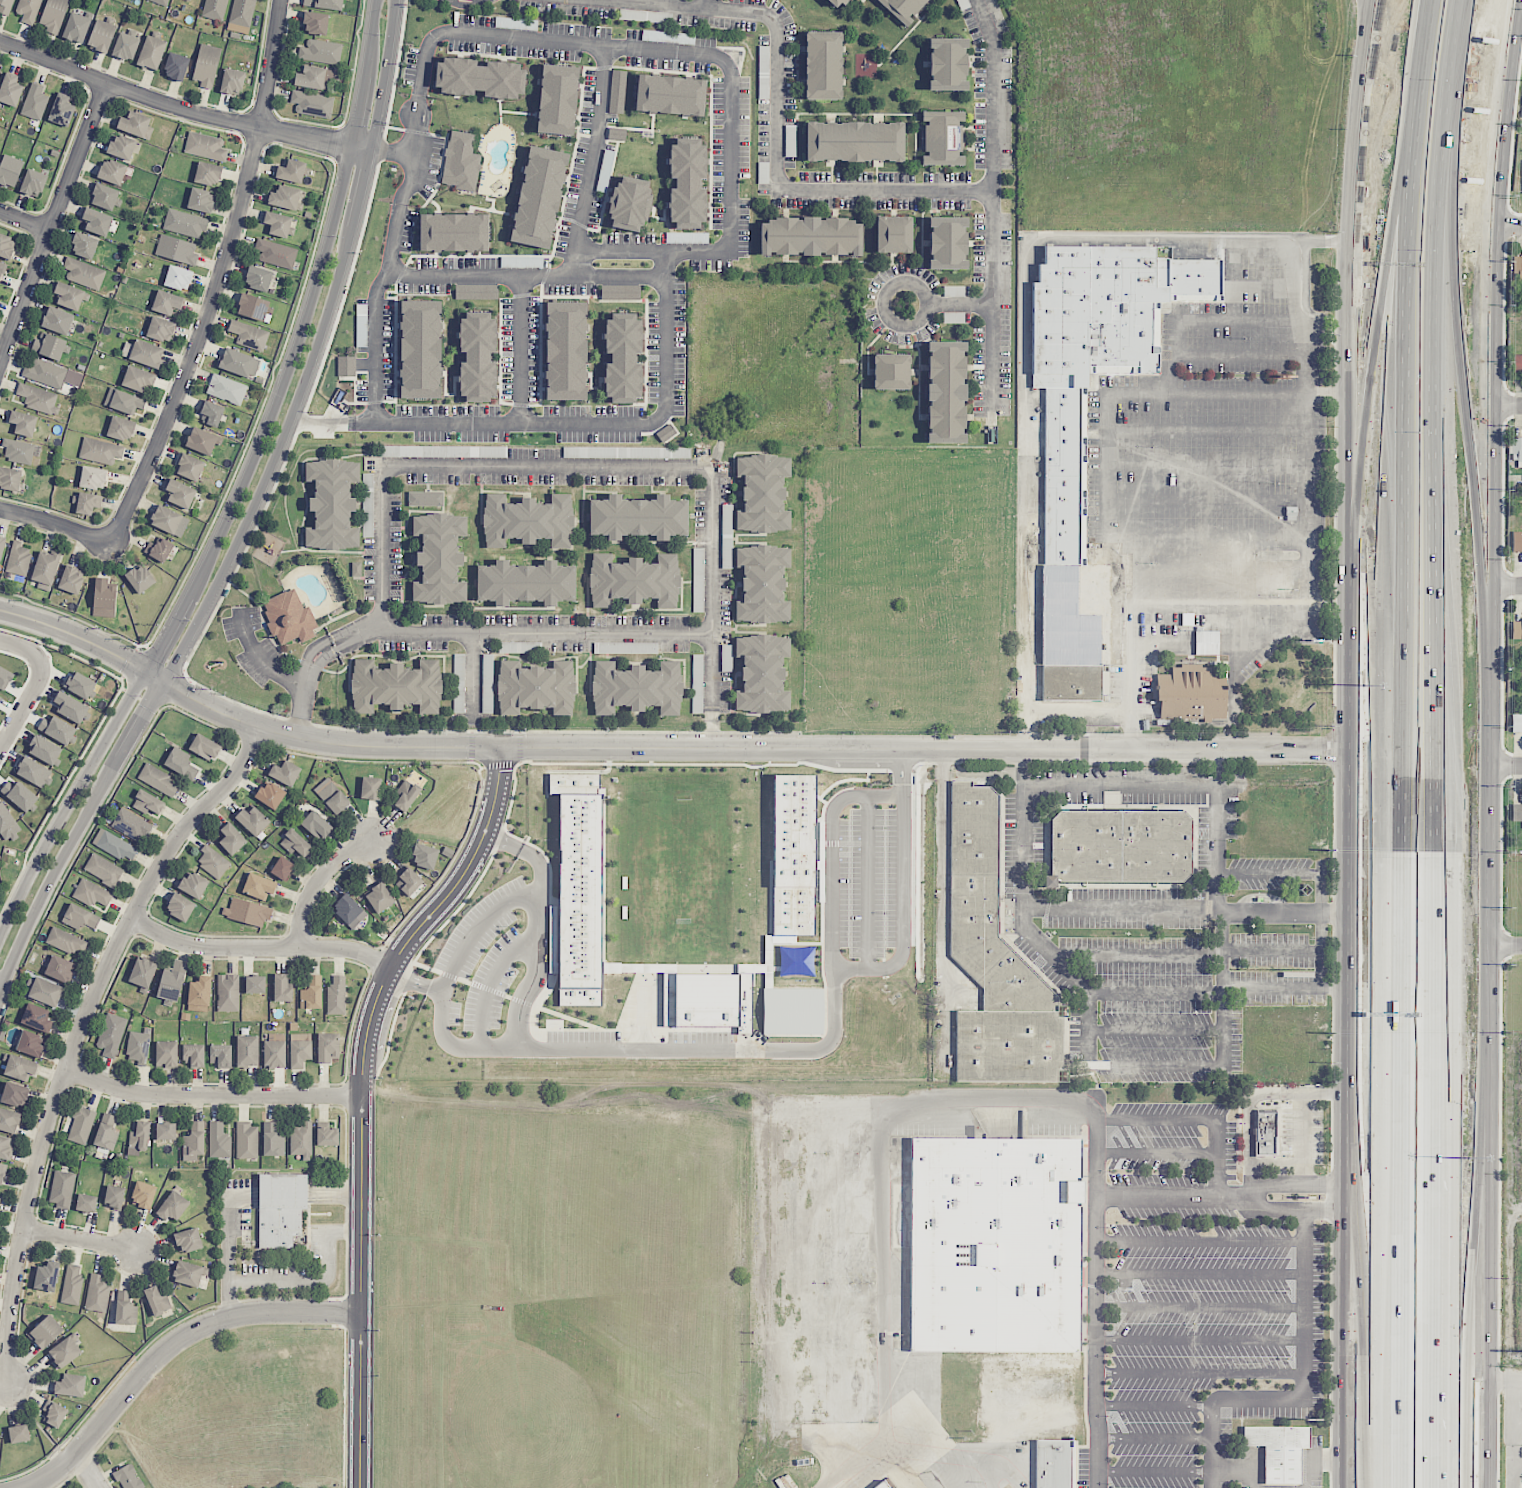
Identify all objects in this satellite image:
building: (161, 2)
road: (709, 3)
building: (837, 3)
building: (324, 4)
building: (6, 5)
road: (1370, 7)
road: (1373, 7)
building: (903, 8)
building: (214, 9)
building: (28, 10)
building: (54, 15)
building: (241, 16)
building: (315, 23)
building: (76, 27)
street lamp: (382, 34)
building: (101, 36)
road: (371, 37)
building: (125, 46)
building: (321, 51)
building: (151, 52)
building: (947, 64)
building: (206, 65)
building: (823, 65)
building: (176, 66)
building: (763, 67)
building: (0, 71)
road: (383, 75)
building: (314, 77)
building: (480, 78)
building: (232, 81)
building: (10, 90)
building: (617, 91)
building: (670, 95)
building: (557, 99)
building: (35, 102)
building: (312, 103)
road: (172, 105)
building: (61, 110)
road: (359, 111)
building: (136, 125)
street lamp: (368, 126)
building: (616, 134)
road: (776, 137)
building: (942, 138)
building: (854, 141)
road: (413, 144)
building: (121, 146)
building: (205, 146)
road: (360, 149)
building: (460, 161)
road: (732, 163)
building: (10, 170)
building: (112, 171)
building: (291, 171)
building: (208, 173)
road: (407, 179)
building: (33, 183)
building: (687, 183)
road: (360, 189)
building: (104, 196)
building: (284, 197)
building: (539, 197)
building: (201, 200)
building: (630, 203)
road: (992, 204)
road: (24, 221)
building: (97, 221)
road: (52, 222)
building: (185, 223)
building: (279, 223)
road: (1507, 226)
building: (453, 232)
building: (893, 234)
street lamp: (337, 236)
building: (810, 236)
building: (947, 243)
road: (1330, 243)
building: (84, 245)
building: (7, 246)
building: (176, 249)
building: (276, 253)
building: (2, 268)
building: (1517, 269)
road: (1356, 272)
building: (84, 273)
road: (483, 273)
building: (178, 278)
building: (258, 278)
road: (218, 280)
building: (1193, 280)
road: (1306, 283)
building: (477, 291)
building: (620, 292)
road: (886, 292)
building: (70, 296)
building: (166, 302)
road: (959, 305)
building: (254, 307)
building: (1095, 313)
building: (57, 320)
building: (160, 329)
building: (249, 335)
street lamp: (308, 336)
building: (49, 346)
road: (521, 348)
building: (420, 349)
building: (566, 350)
building: (143, 353)
building: (477, 356)
building: (623, 357)
road: (1024, 357)
building: (239, 363)
building: (1517, 363)
building: (346, 366)
building: (891, 371)
building: (50, 373)
road: (286, 377)
building: (137, 378)
building: (226, 389)
building: (946, 391)
road: (1120, 392)
building: (38, 399)
building: (124, 401)
road: (1504, 406)
building: (211, 414)
road: (1463, 419)
building: (23, 423)
road: (365, 423)
road: (486, 423)
road: (321, 424)
building: (121, 428)
road: (1375, 428)
road: (1406, 428)
street lamp: (272, 431)
building: (1064, 432)
building: (201, 441)
building: (1516, 448)
building: (18, 451)
building: (100, 451)
road: (272, 460)
building: (190, 467)
road: (548, 473)
building: (92, 477)
building: (10, 478)
building: (763, 493)
building: (180, 494)
building: (425, 498)
building: (368, 499)
building: (87, 503)
building: (332, 504)
building: (638, 517)
street lamp: (236, 518)
building: (166, 519)
building: (1063, 519)
building: (528, 520)
road: (55, 522)
building: (1517, 542)
road: (1304, 544)
building: (2, 547)
building: (159, 549)
road: (382, 552)
building: (439, 558)
building: (18, 559)
building: (698, 568)
building: (45, 569)
building: (140, 579)
building: (72, 580)
building: (634, 580)
building: (525, 582)
building: (762, 584)
road: (1503, 586)
road: (1485, 590)
building: (104, 598)
street lamp: (23, 600)
road: (713, 609)
building: (1065, 611)
road: (70, 616)
building: (290, 618)
street lamp: (189, 620)
street lamp: (100, 629)
building: (1516, 629)
road: (522, 632)
road: (167, 634)
road: (75, 636)
road: (151, 639)
road: (1181, 641)
road: (21, 646)
building: (504, 646)
road: (137, 648)
road: (62, 650)
road: (46, 652)
road: (48, 656)
road: (259, 659)
road: (38, 661)
road: (129, 663)
road: (28, 665)
street lamp: (25, 668)
building: (762, 673)
road: (472, 676)
building: (5, 677)
road: (154, 677)
road: (122, 678)
building: (1073, 680)
building: (459, 683)
building: (487, 683)
building: (80, 684)
building: (396, 686)
road: (306, 687)
building: (536, 687)
building: (636, 688)
building: (1188, 693)
road: (1237, 695)
building: (0, 696)
street lamp: (140, 696)
road: (113, 701)
road: (21, 704)
building: (71, 707)
road: (140, 721)
building: (1516, 723)
building: (56, 728)
road: (1437, 743)
building: (205, 747)
road: (750, 747)
building: (44, 750)
building: (180, 763)
road: (1503, 766)
building: (34, 772)
building: (285, 772)
building: (157, 779)
street lamp: (91, 781)
road: (1122, 784)
building: (370, 788)
building: (19, 794)
building: (270, 794)
building: (406, 794)
building: (331, 796)
road: (69, 802)
building: (148, 803)
building: (1516, 812)
building: (253, 820)
building: (7, 823)
building: (131, 824)
building: (316, 825)
road: (1215, 832)
building: (231, 839)
building: (295, 843)
building: (115, 845)
building: (1120, 848)
building: (793, 854)
building: (424, 856)
road: (1350, 861)
building: (212, 862)
road: (940, 863)
street lamp: (42, 868)
building: (282, 868)
building: (103, 869)
road: (54, 872)
road: (317, 880)
building: (410, 881)
building: (193, 884)
building: (258, 886)
building: (579, 887)
building: (91, 893)
building: (379, 898)
building: (180, 907)
building: (349, 910)
road: (1109, 911)
building: (247, 912)
road: (904, 915)
building: (80, 917)
road: (538, 927)
road: (475, 930)
road: (1219, 933)
building: (66, 941)
road: (260, 946)
road: (1503, 946)
road: (1206, 953)
building: (996, 958)
building: (59, 968)
building: (142, 973)
road: (410, 976)
building: (172, 981)
road: (487, 981)
building: (255, 984)
building: (283, 987)
building: (46, 992)
building: (228, 993)
building: (311, 993)
building: (199, 994)
building: (336, 996)
building: (711, 1003)
road: (370, 1010)
building: (793, 1011)
building: (36, 1017)
road: (1165, 1030)
road: (78, 1034)
building: (111, 1035)
building: (31, 1043)
building: (327, 1046)
building: (138, 1047)
building: (299, 1050)
road: (788, 1050)
building: (247, 1051)
building: (166, 1054)
building: (193, 1055)
building: (221, 1055)
building: (20, 1068)
building: (15, 1094)
road: (211, 1094)
road: (975, 1106)
street lamp: (342, 1114)
road: (1304, 1114)
road: (1189, 1118)
building: (9, 1120)
building: (81, 1125)
building: (165, 1131)
building: (106, 1132)
building: (1265, 1134)
building: (140, 1136)
building: (327, 1137)
building: (219, 1140)
building: (272, 1140)
building: (194, 1141)
building: (247, 1141)
building: (302, 1141)
building: (6, 1147)
road: (1157, 1154)
building: (2, 1172)
road: (1404, 1172)
road: (1223, 1181)
building: (62, 1188)
road: (335, 1192)
building: (143, 1195)
building: (114, 1197)
building: (0, 1199)
building: (86, 1203)
building: (172, 1206)
road: (1223, 1206)
parking lot: (235, 1208)
building: (280, 1209)
flagpole: (328, 1214)
street lamp: (378, 1234)
road: (78, 1238)
building: (188, 1240)
parking lot: (323, 1241)
road: (228, 1242)
road: (1201, 1243)
building: (993, 1245)
road: (319, 1246)
road: (1201, 1272)
building: (187, 1273)
building: (47, 1276)
parking lot: (275, 1276)
road: (317, 1282)
building: (72, 1285)
building: (97, 1294)
street lamp: (341, 1295)
building: (157, 1300)
road: (1200, 1306)
street lamp: (211, 1308)
building: (125, 1309)
road: (337, 1312)
road: (212, 1321)
street lamp: (377, 1330)
building: (46, 1332)
road: (1472, 1335)
road: (1483, 1335)
road: (1200, 1338)
road: (1368, 1339)
road: (1350, 1340)
building: (65, 1351)
street lamp: (135, 1360)
road: (1200, 1372)
road: (1502, 1382)
building: (71, 1385)
road: (1305, 1393)
road: (360, 1400)
road: (1153, 1404)
building: (55, 1414)
building: (19, 1433)
street lamp: (73, 1434)
road: (1153, 1437)
building: (1278, 1449)
road: (68, 1459)
road: (1316, 1460)
building: (1052, 1463)
road: (896, 1468)
road: (87, 1469)
road: (1153, 1470)
road: (1239, 1471)
building: (128, 1477)
building: (879, 1484)

